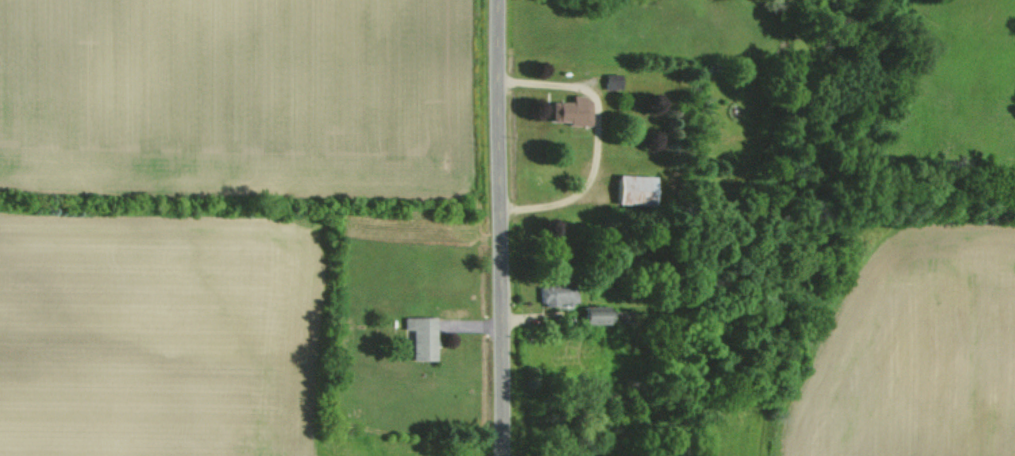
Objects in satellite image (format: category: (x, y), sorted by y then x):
building: (607, 81)
building: (567, 110)
road: (594, 139)
building: (628, 188)
road: (499, 227)
building: (551, 294)
building: (589, 314)
building: (416, 336)

